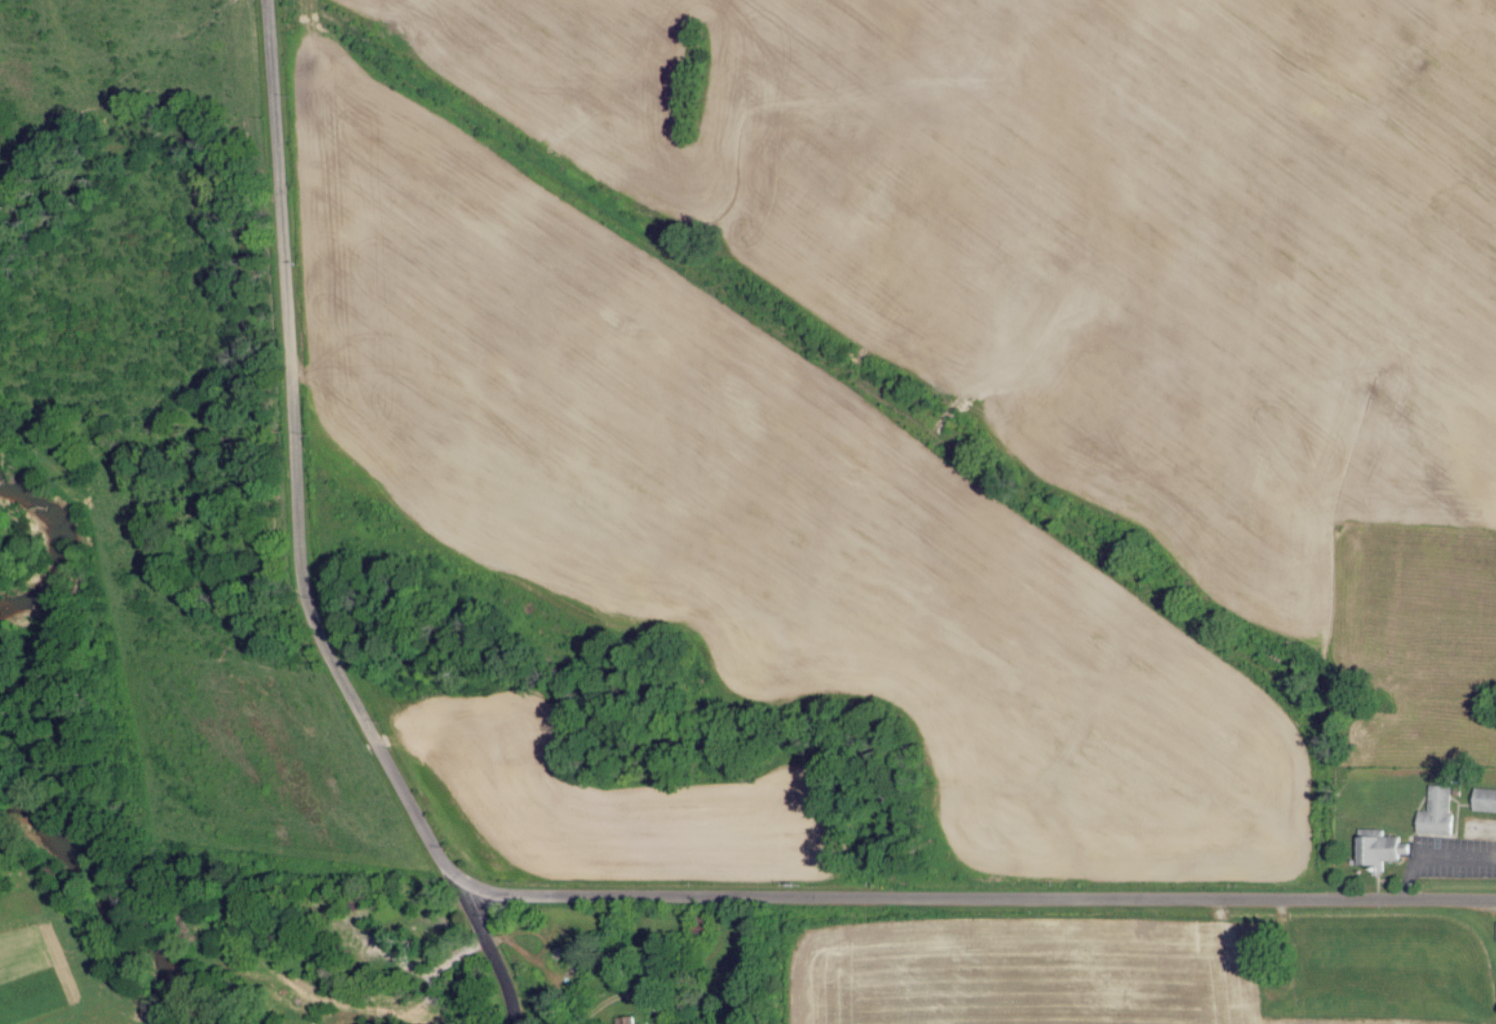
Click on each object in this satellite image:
river: (54, 562)
building: (1482, 798)
building: (1433, 810)
building: (1377, 847)
road: (515, 893)
river: (108, 909)
road: (492, 951)
building: (623, 1019)

